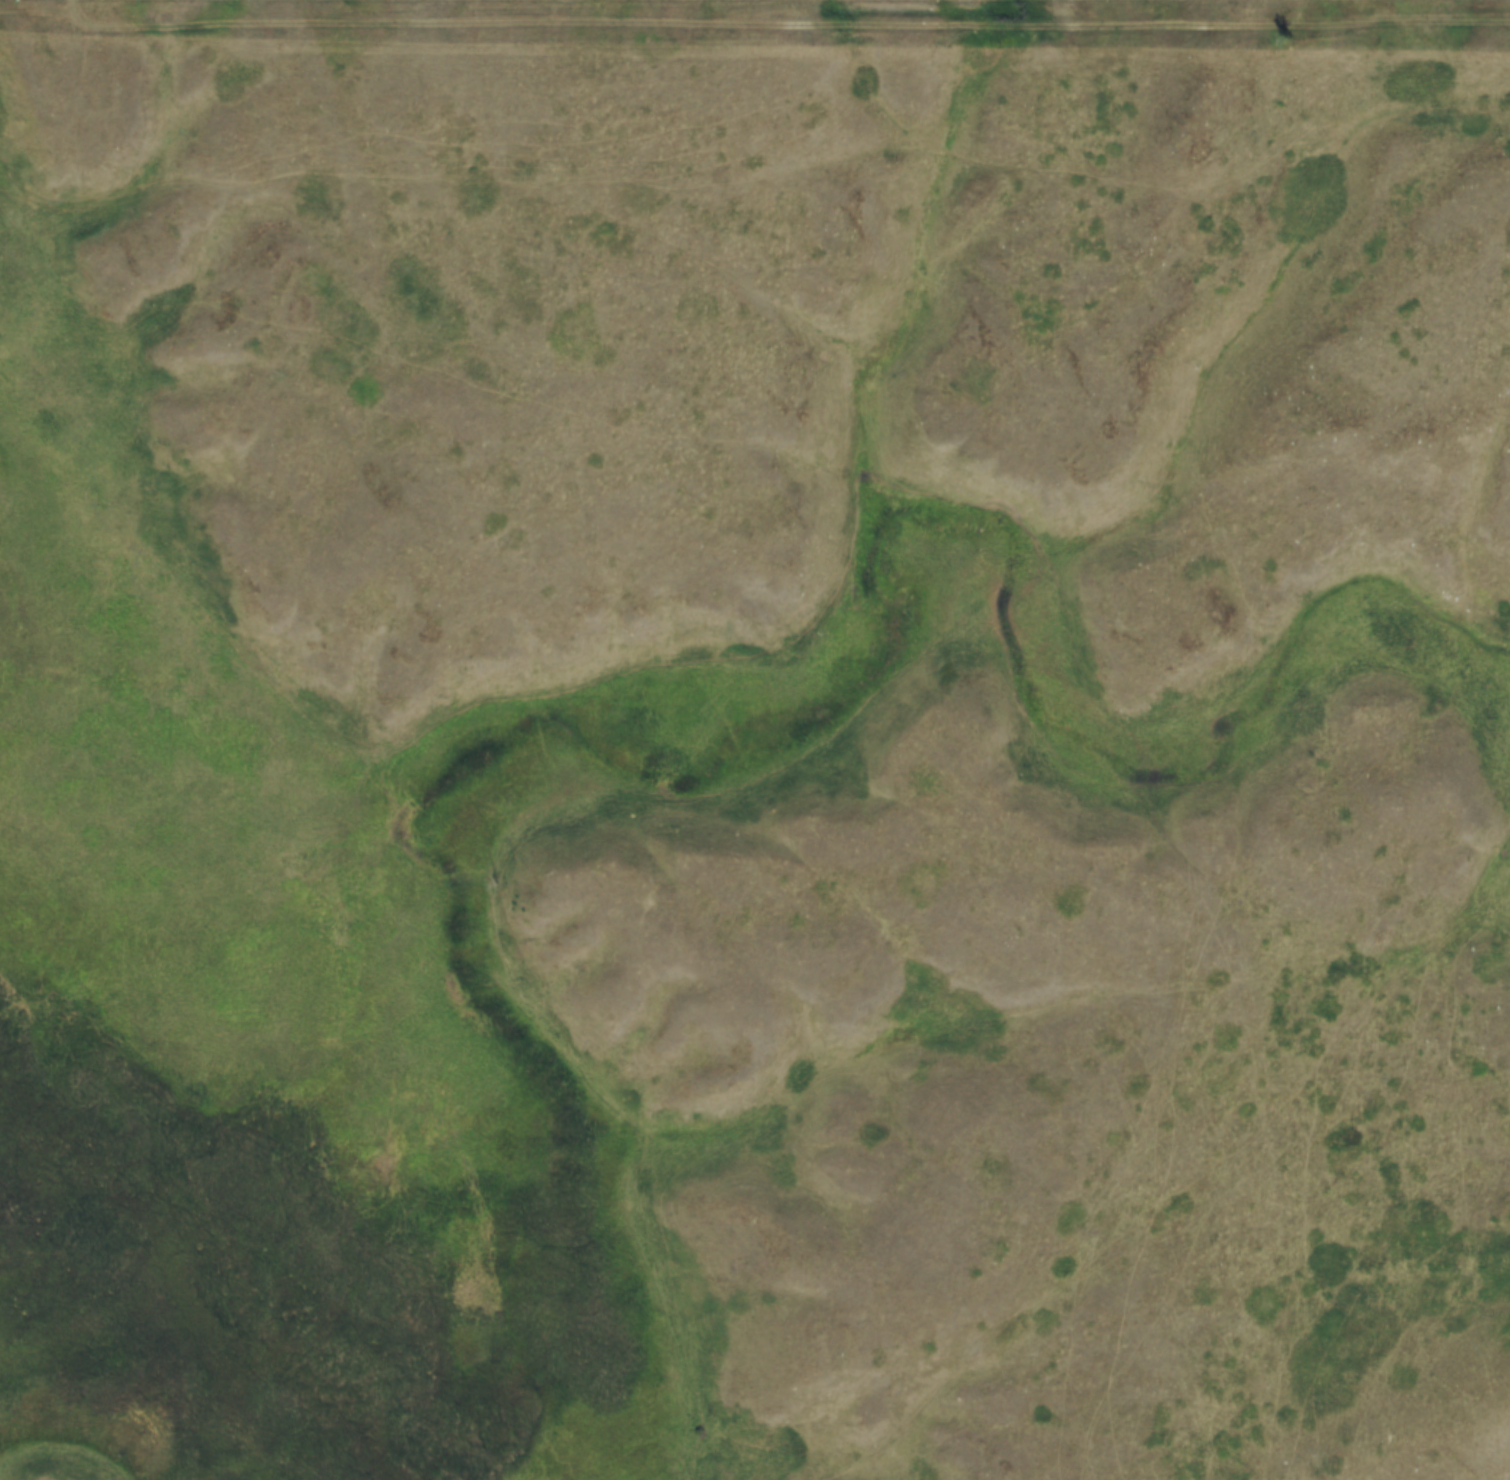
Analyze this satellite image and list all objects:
road: (78, 17)
road: (799, 25)

